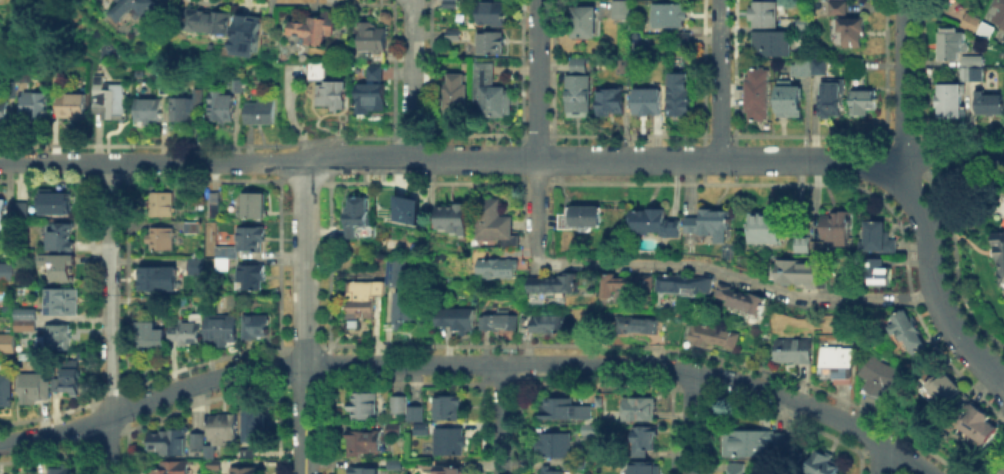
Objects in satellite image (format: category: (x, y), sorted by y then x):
building: (820, 0)
building: (116, 2)
building: (451, 4)
building: (137, 8)
building: (622, 8)
building: (837, 8)
building: (491, 13)
building: (998, 13)
building: (763, 15)
building: (207, 20)
building: (583, 22)
building: (672, 23)
building: (970, 23)
building: (269, 28)
building: (314, 29)
building: (806, 29)
building: (852, 31)
building: (245, 32)
building: (453, 35)
building: (373, 42)
building: (490, 43)
building: (771, 45)
building: (949, 45)
building: (234, 48)
building: (578, 66)
building: (623, 67)
building: (855, 67)
building: (801, 68)
building: (819, 68)
building: (972, 69)
building: (371, 72)
building: (317, 73)
building: (23, 76)
road: (408, 79)
road: (535, 79)
road: (715, 79)
road: (903, 80)
building: (236, 88)
building: (10, 89)
building: (488, 93)
building: (372, 94)
building: (457, 94)
building: (679, 94)
building: (332, 95)
building: (578, 95)
building: (758, 95)
building: (109, 101)
building: (611, 101)
building: (789, 102)
building: (861, 102)
building: (949, 102)
building: (647, 103)
building: (830, 103)
building: (71, 105)
building: (989, 105)
building: (35, 106)
building: (186, 107)
building: (220, 108)
building: (4, 112)
building: (258, 112)
building: (148, 113)
road: (953, 153)
road: (509, 159)
road: (809, 160)
road: (152, 162)
building: (56, 203)
building: (216, 204)
road: (535, 205)
building: (162, 206)
building: (256, 207)
building: (405, 207)
building: (23, 211)
building: (356, 213)
building: (1, 214)
building: (563, 218)
building: (583, 219)
building: (453, 221)
building: (492, 221)
building: (655, 224)
building: (229, 226)
building: (710, 226)
building: (836, 227)
building: (765, 229)
building: (877, 237)
building: (62, 238)
building: (159, 238)
building: (251, 239)
building: (801, 247)
building: (821, 248)
building: (227, 252)
building: (1000, 254)
road: (304, 263)
building: (194, 264)
building: (222, 266)
building: (499, 269)
building: (58, 270)
building: (6, 271)
building: (796, 272)
building: (395, 273)
building: (872, 273)
road: (733, 277)
building: (161, 278)
building: (250, 278)
building: (626, 282)
road: (932, 283)
building: (554, 284)
building: (686, 284)
building: (360, 299)
building: (740, 299)
building: (58, 303)
building: (403, 306)
road: (109, 318)
building: (26, 320)
building: (455, 320)
building: (498, 324)
building: (547, 324)
building: (255, 327)
building: (635, 327)
building: (221, 329)
building: (907, 332)
building: (186, 335)
building: (58, 338)
building: (715, 339)
building: (153, 340)
building: (7, 343)
building: (790, 351)
building: (25, 355)
building: (837, 362)
road: (470, 364)
building: (25, 368)
building: (878, 377)
building: (70, 383)
building: (939, 388)
building: (33, 389)
building: (5, 392)
building: (362, 405)
building: (399, 405)
building: (447, 408)
building: (565, 409)
building: (640, 409)
building: (418, 413)
road: (304, 419)
road: (499, 419)
building: (253, 421)
road: (688, 422)
building: (973, 423)
building: (223, 428)
building: (421, 429)
building: (589, 430)
building: (779, 440)
building: (197, 441)
building: (748, 442)
building: (170, 443)
building: (449, 443)
building: (644, 443)
building: (364, 444)
building: (554, 445)
building: (247, 453)
building: (209, 454)
road: (878, 458)
building: (393, 463)
building: (424, 463)
building: (823, 465)
building: (214, 468)
building: (736, 468)
building: (170, 469)
building: (643, 469)
building: (245, 471)
building: (365, 471)
building: (450, 471)
building: (60, 472)
building: (551, 473)
building: (1003, 473)

